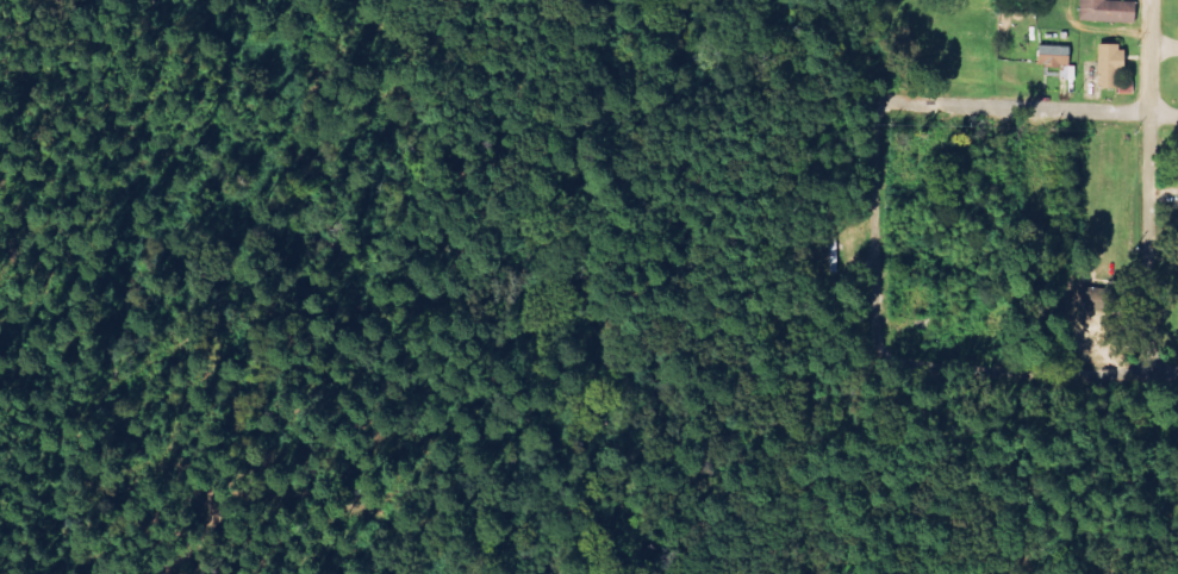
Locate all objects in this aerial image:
building: (1104, 11)
building: (1052, 56)
building: (1111, 69)
road: (1028, 107)
road: (1146, 186)
road: (873, 235)
building: (1082, 293)
road: (1031, 370)

